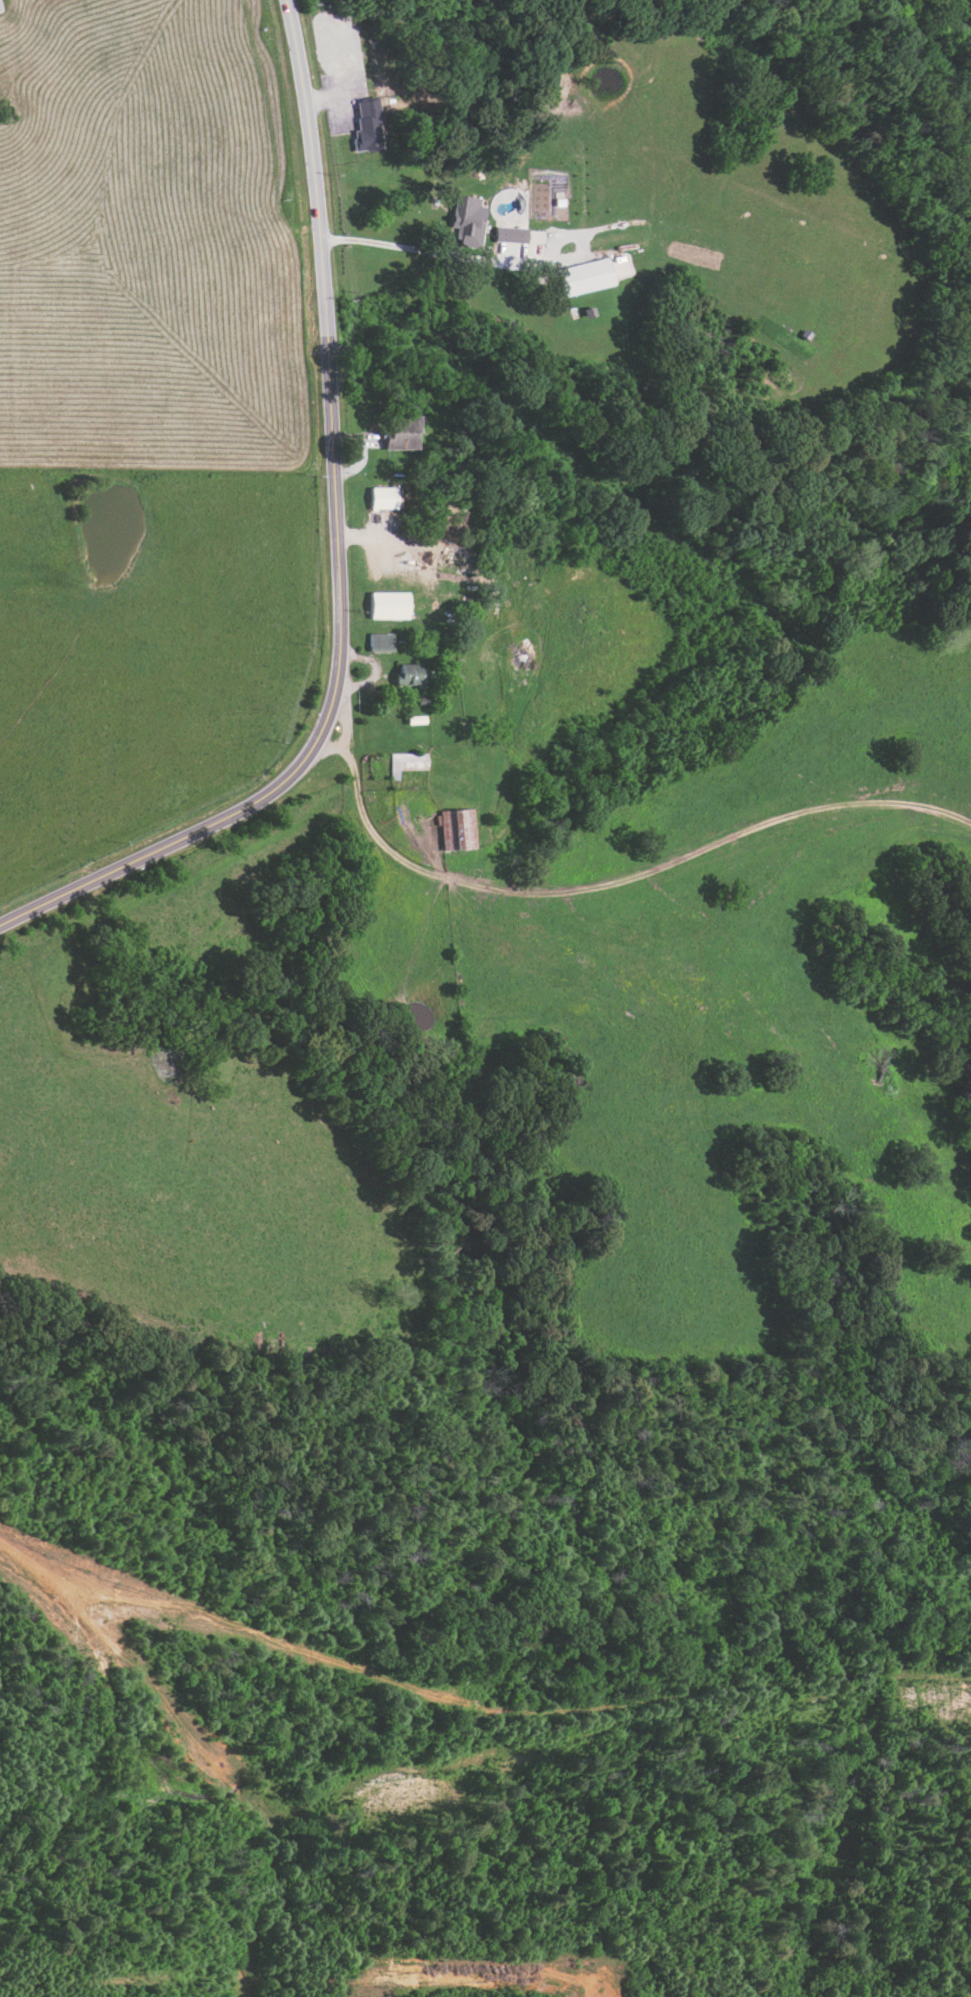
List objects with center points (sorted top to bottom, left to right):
building: (367, 126)
building: (468, 220)
building: (510, 235)
road: (482, 260)
building: (593, 274)
building: (402, 431)
building: (383, 498)
road: (335, 556)
building: (389, 605)
building: (381, 642)
building: (412, 674)
road: (345, 730)
building: (458, 828)
road: (378, 839)

